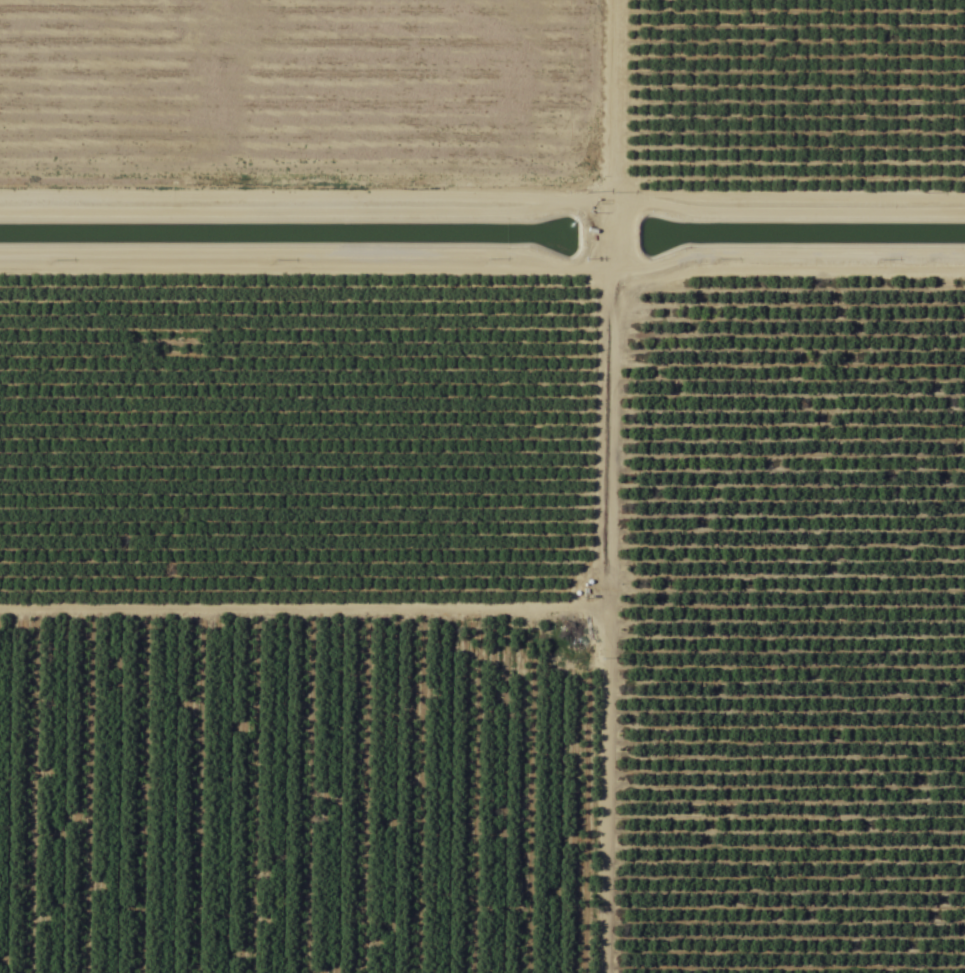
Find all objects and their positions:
crop: (482, 486)
road: (598, 486)

